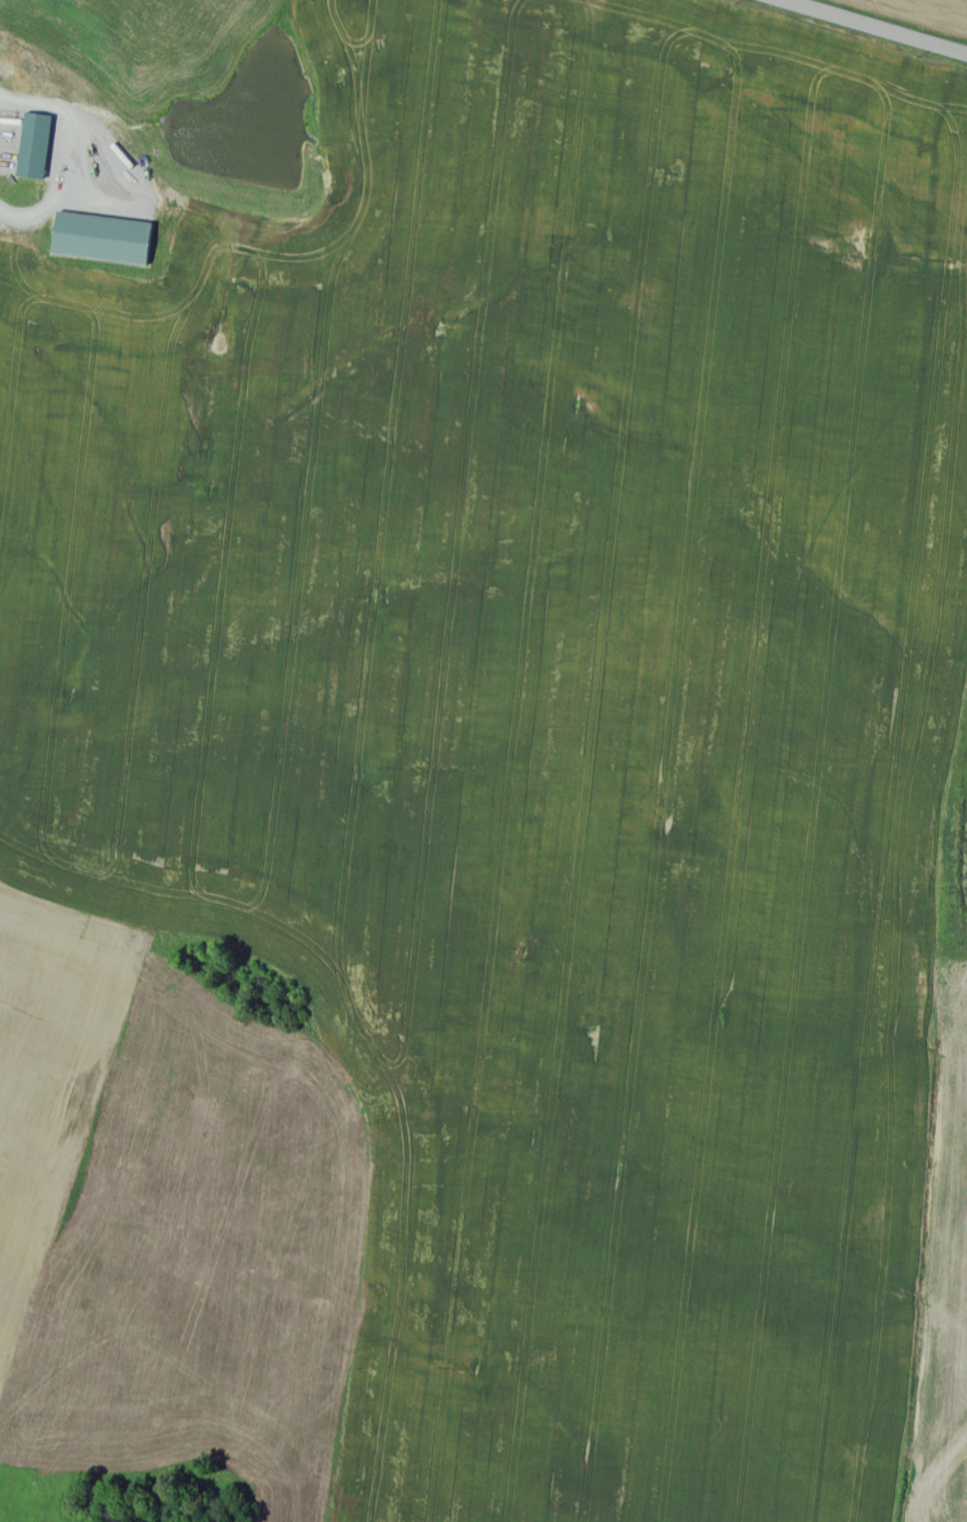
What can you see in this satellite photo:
road: (874, 24)
building: (32, 147)
building: (99, 240)

